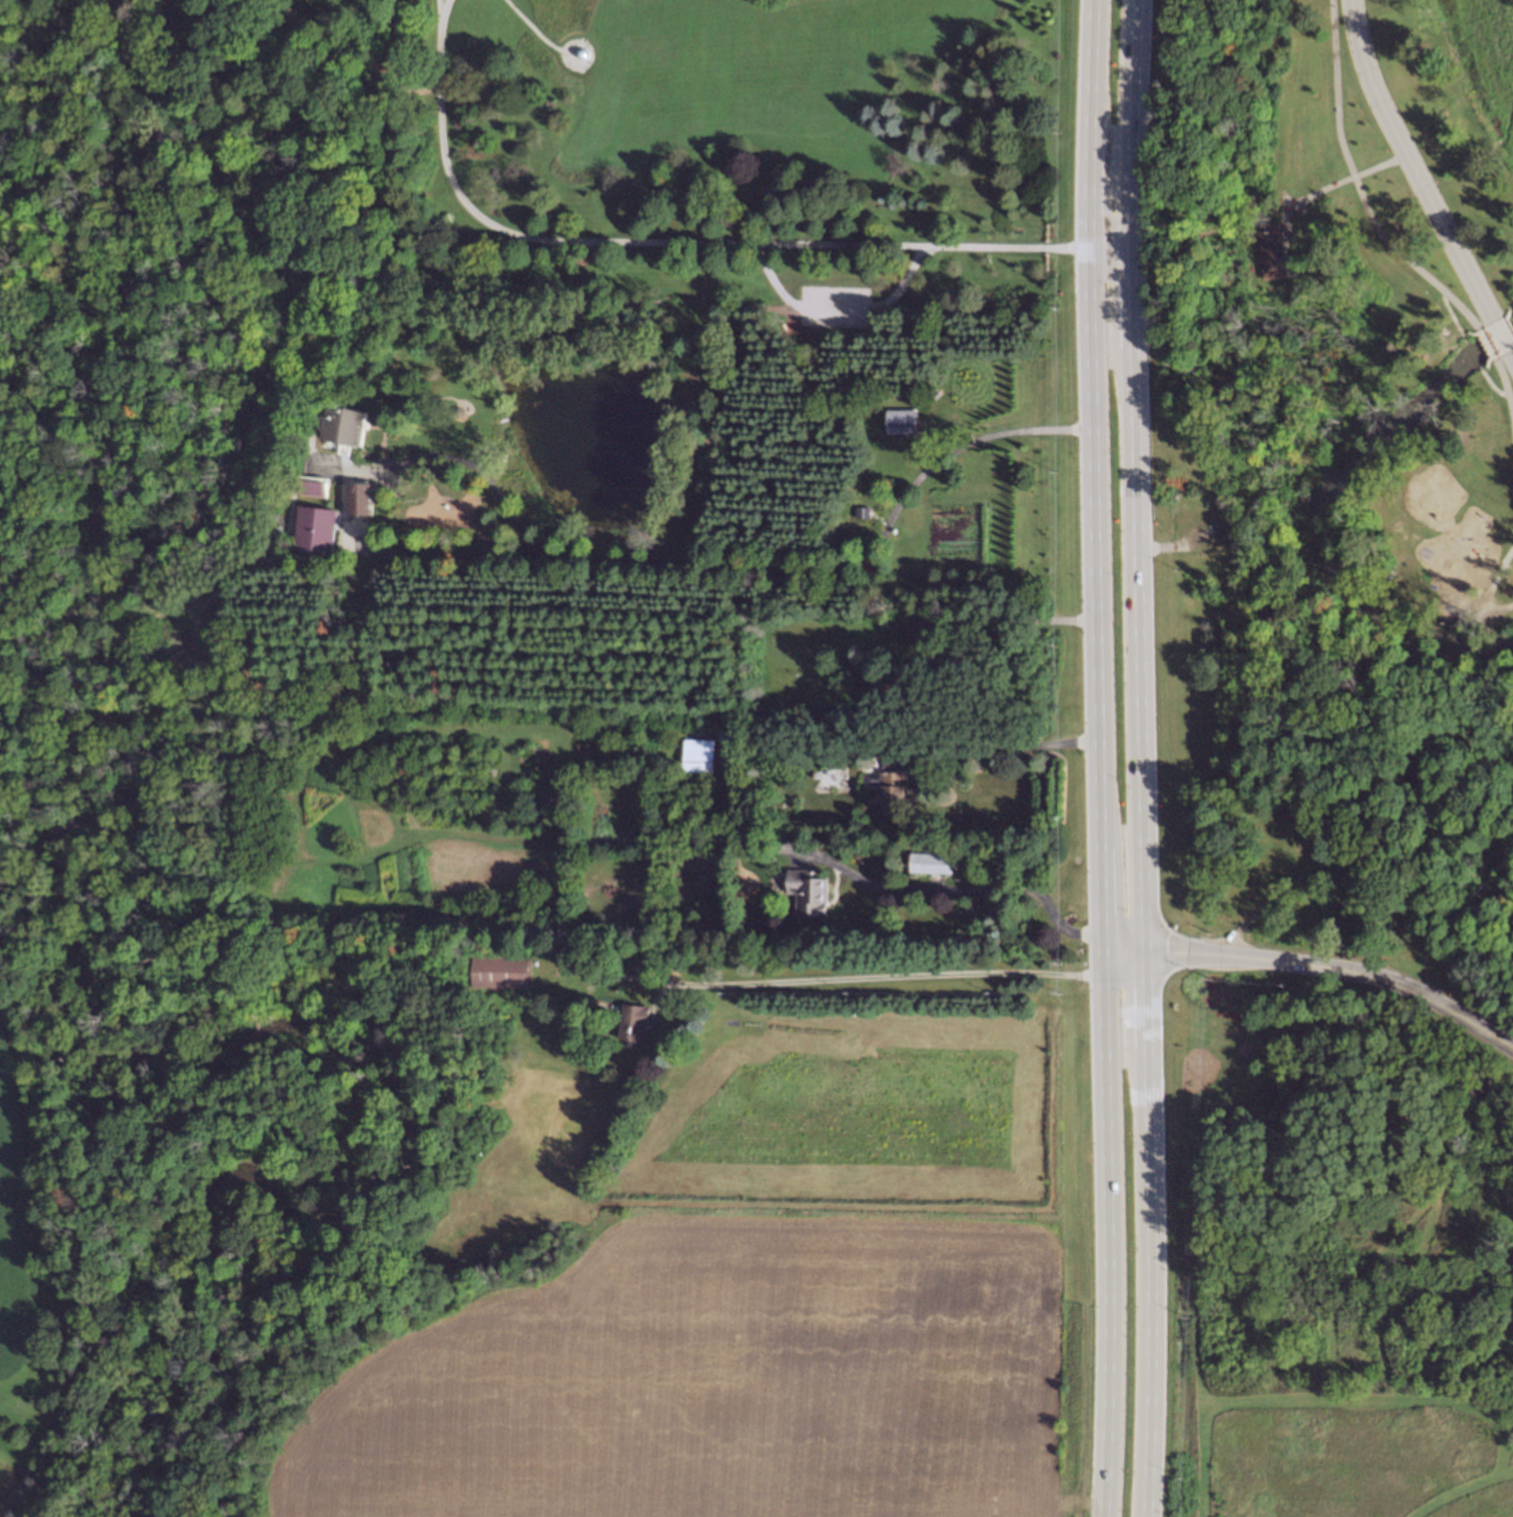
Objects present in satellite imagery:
road: (439, 4)
road: (535, 30)
road: (45, 34)
road: (377, 48)
building: (578, 52)
road: (1408, 161)
road: (1336, 181)
road: (1356, 186)
road: (666, 239)
road: (1111, 246)
building: (1263, 250)
parking lot: (832, 306)
road: (832, 306)
road: (1499, 332)
road: (1483, 344)
road: (1511, 353)
park: (486, 355)
building: (456, 408)
road: (1510, 416)
building: (898, 420)
building: (345, 422)
park: (1356, 430)
building: (309, 487)
building: (358, 500)
road: (1290, 501)
building: (1199, 528)
building: (313, 531)
road: (712, 566)
road: (1494, 585)
road: (999, 618)
road: (1481, 649)
road: (1415, 664)
building: (889, 679)
building: (757, 736)
building: (765, 738)
road: (973, 745)
road: (1098, 758)
road: (1139, 758)
building: (694, 761)
building: (729, 772)
building: (890, 790)
building: (1287, 807)
building: (925, 860)
road: (963, 888)
building: (802, 893)
road: (1315, 965)
building: (499, 969)
road: (870, 981)
building: (629, 1020)
road: (1296, 1038)
park: (1334, 1252)
road: (1355, 1280)
road: (1491, 1354)
crop: (711, 1388)
road: (1426, 1399)
road: (1508, 1441)
road: (1504, 1472)

